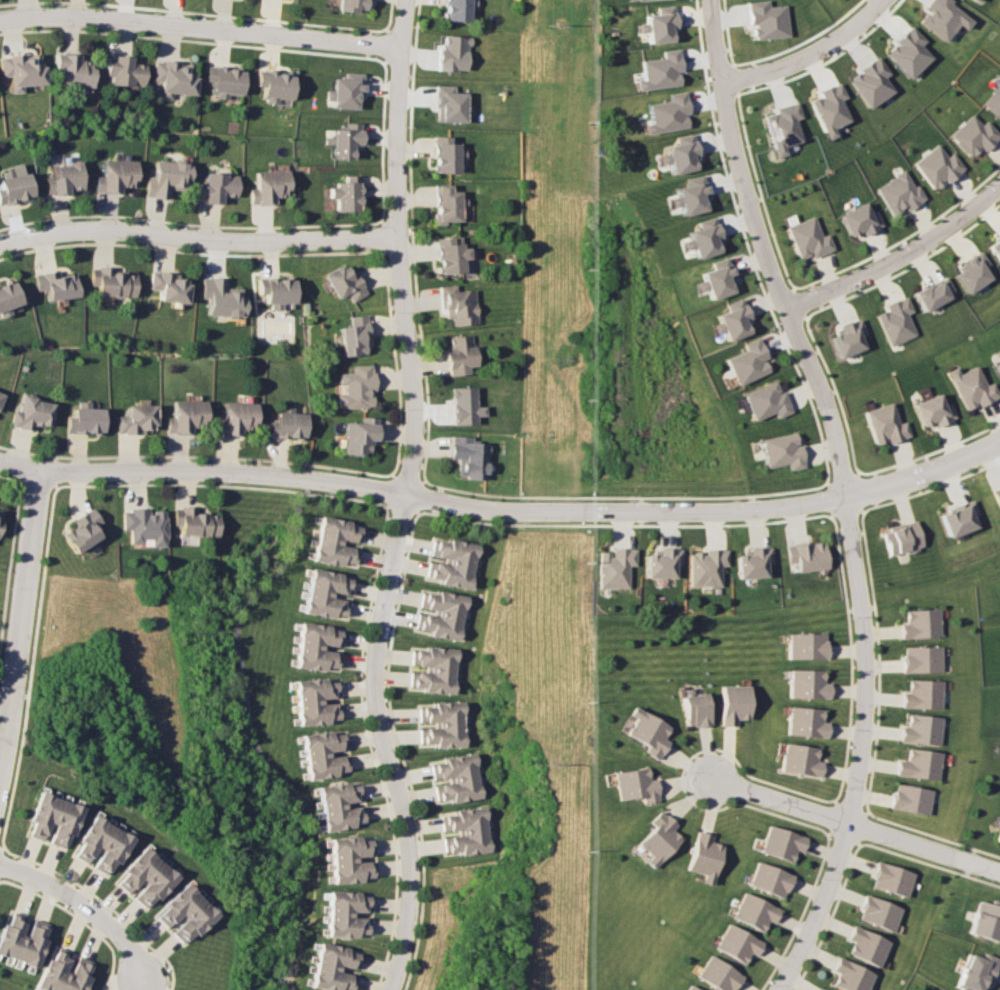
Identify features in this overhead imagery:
building: (629, 0)
building: (976, 0)
building: (350, 5)
building: (459, 9)
building: (942, 18)
building: (766, 19)
building: (657, 25)
road: (201, 30)
road: (803, 49)
building: (906, 52)
building: (453, 53)
building: (22, 70)
building: (73, 70)
building: (124, 70)
building: (659, 70)
building: (173, 77)
building: (223, 80)
building: (869, 82)
building: (272, 85)
road: (718, 87)
building: (344, 91)
building: (993, 100)
building: (450, 104)
building: (827, 109)
building: (666, 113)
building: (780, 127)
building: (973, 135)
building: (342, 140)
building: (678, 154)
building: (445, 155)
building: (938, 166)
building: (116, 175)
building: (65, 178)
building: (166, 178)
building: (16, 185)
building: (267, 186)
building: (216, 187)
building: (344, 193)
building: (899, 193)
building: (690, 196)
building: (447, 204)
building: (858, 220)
road: (382, 236)
building: (807, 238)
road: (195, 239)
building: (997, 248)
building: (450, 255)
road: (899, 257)
building: (975, 271)
building: (715, 279)
building: (112, 282)
building: (343, 282)
building: (57, 284)
building: (168, 286)
building: (275, 291)
building: (936, 293)
building: (221, 297)
building: (8, 298)
building: (457, 305)
building: (731, 320)
building: (898, 321)
building: (353, 335)
road: (799, 335)
building: (848, 338)
building: (459, 354)
building: (747, 361)
road: (395, 363)
building: (997, 367)
building: (355, 387)
building: (971, 387)
building: (1, 396)
building: (766, 401)
building: (464, 405)
building: (932, 411)
building: (33, 413)
building: (186, 415)
building: (236, 418)
building: (86, 419)
building: (137, 419)
building: (286, 423)
building: (885, 424)
building: (358, 434)
building: (782, 450)
building: (469, 456)
road: (20, 468)
road: (925, 475)
road: (38, 481)
road: (411, 481)
road: (224, 485)
road: (393, 488)
building: (997, 495)
road: (406, 497)
road: (419, 499)
road: (444, 501)
road: (400, 506)
building: (1, 514)
building: (958, 518)
building: (193, 521)
building: (144, 525)
building: (340, 525)
road: (621, 526)
building: (82, 530)
building: (338, 535)
building: (902, 538)
building: (457, 546)
building: (335, 547)
building: (807, 555)
building: (455, 556)
building: (333, 558)
road: (10, 559)
building: (661, 562)
building: (752, 562)
building: (615, 567)
building: (706, 567)
building: (453, 569)
building: (451, 579)
park: (1, 585)
building: (325, 593)
building: (449, 598)
building: (446, 609)
building: (444, 621)
road: (21, 623)
building: (920, 623)
building: (442, 631)
building: (805, 645)
building: (316, 647)
building: (438, 652)
building: (921, 659)
building: (438, 663)
road: (30, 666)
building: (436, 675)
building: (436, 685)
building: (922, 694)
building: (315, 701)
building: (733, 703)
building: (444, 708)
building: (694, 709)
building: (445, 719)
building: (805, 722)
building: (921, 729)
building: (446, 731)
building: (646, 732)
building: (447, 741)
road: (251, 742)
road: (372, 749)
road: (402, 751)
road: (862, 751)
building: (322, 754)
building: (456, 760)
building: (799, 760)
building: (919, 764)
building: (458, 770)
building: (460, 782)
building: (633, 785)
building: (462, 793)
building: (910, 798)
road: (777, 800)
building: (339, 805)
building: (37, 812)
building: (465, 814)
building: (46, 816)
building: (57, 820)
building: (68, 823)
building: (466, 824)
building: (87, 835)
building: (998, 836)
building: (468, 837)
building: (656, 838)
building: (95, 841)
building: (779, 843)
building: (105, 846)
road: (1, 847)
building: (470, 847)
road: (922, 847)
building: (114, 851)
building: (702, 856)
building: (349, 857)
building: (132, 866)
building: (140, 873)
building: (767, 879)
building: (890, 879)
building: (148, 880)
building: (157, 886)
building: (173, 901)
road: (104, 902)
road: (86, 907)
building: (180, 908)
building: (752, 911)
building: (346, 913)
building: (878, 913)
building: (188, 916)
road: (77, 919)
building: (985, 920)
building: (195, 924)
building: (7, 932)
building: (15, 938)
building: (26, 941)
building: (735, 943)
building: (35, 945)
building: (866, 946)
building: (333, 967)
building: (50, 969)
building: (976, 971)
building: (59, 972)
building: (71, 974)
building: (716, 974)
building: (81, 976)
building: (850, 976)
building: (689, 988)
building: (822, 989)

